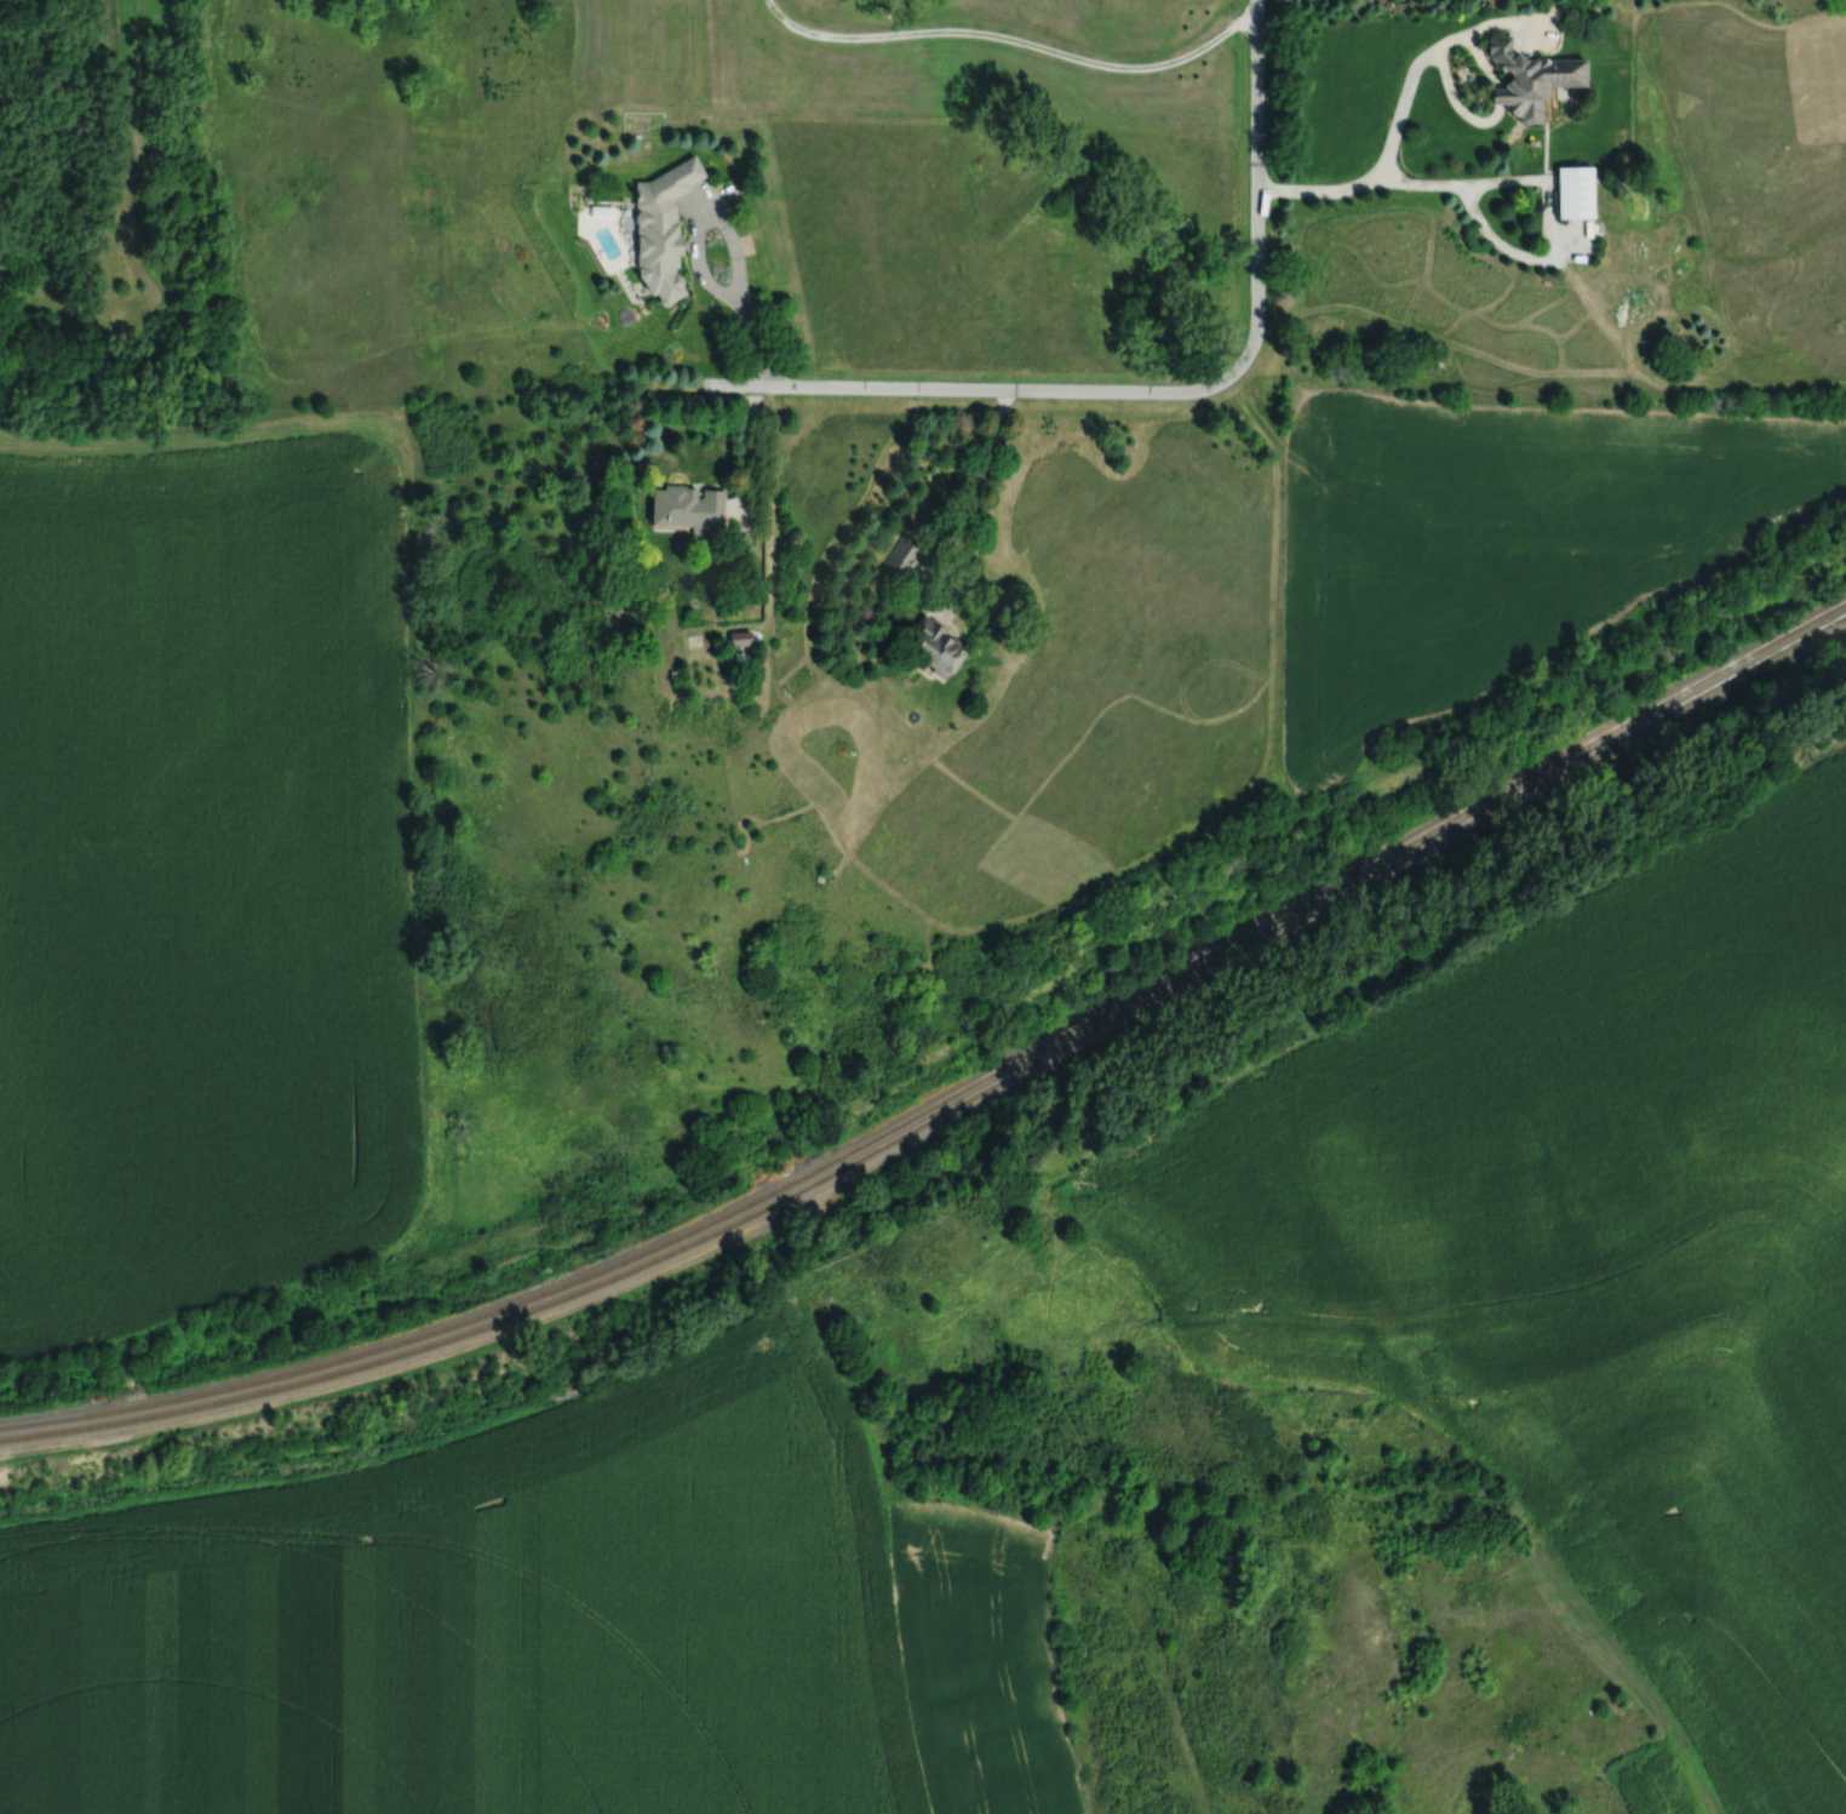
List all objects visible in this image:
road: (1011, 39)
building: (1530, 79)
road: (1400, 119)
road: (1259, 185)
building: (1573, 191)
road: (1547, 199)
building: (661, 228)
road: (726, 228)
road: (958, 389)
road: (148, 441)
road: (750, 451)
road: (976, 490)
building: (687, 507)
building: (904, 559)
railway: (954, 1095)
railway: (954, 1106)

